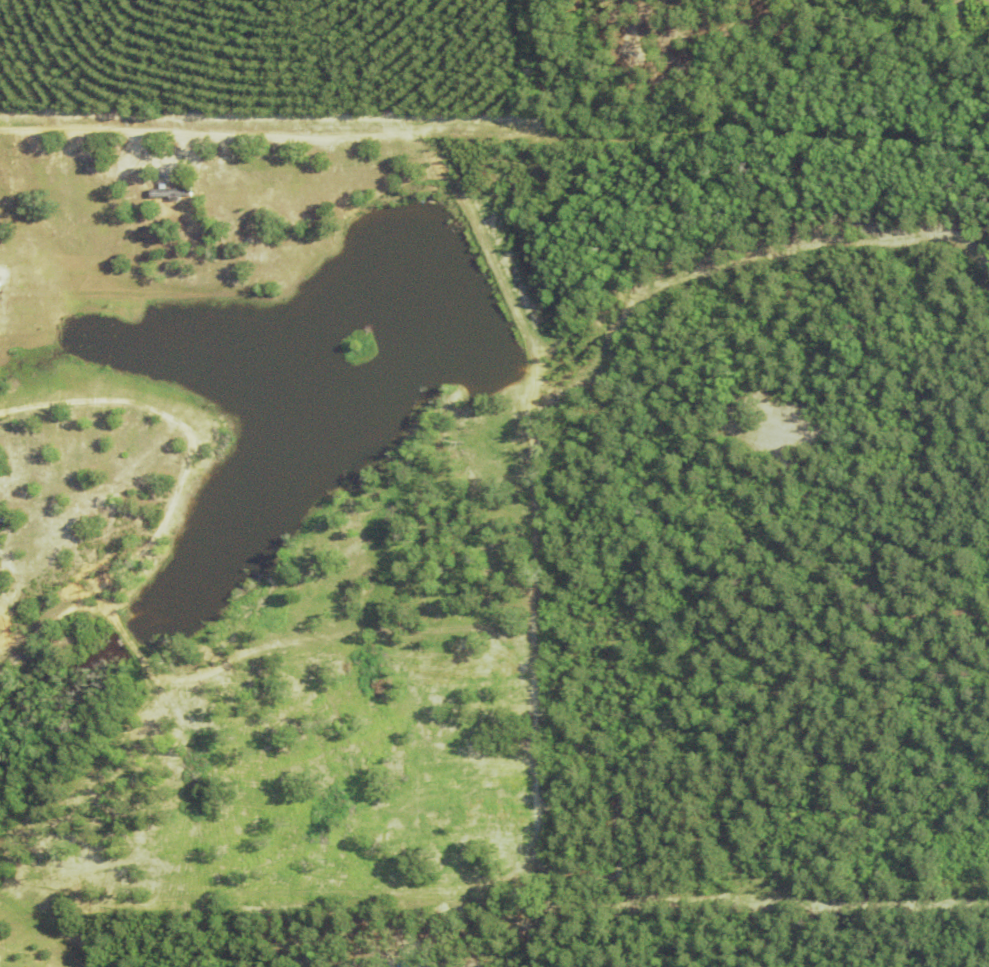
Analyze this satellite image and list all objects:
building: (558, 6)
road: (350, 82)
building: (171, 192)

